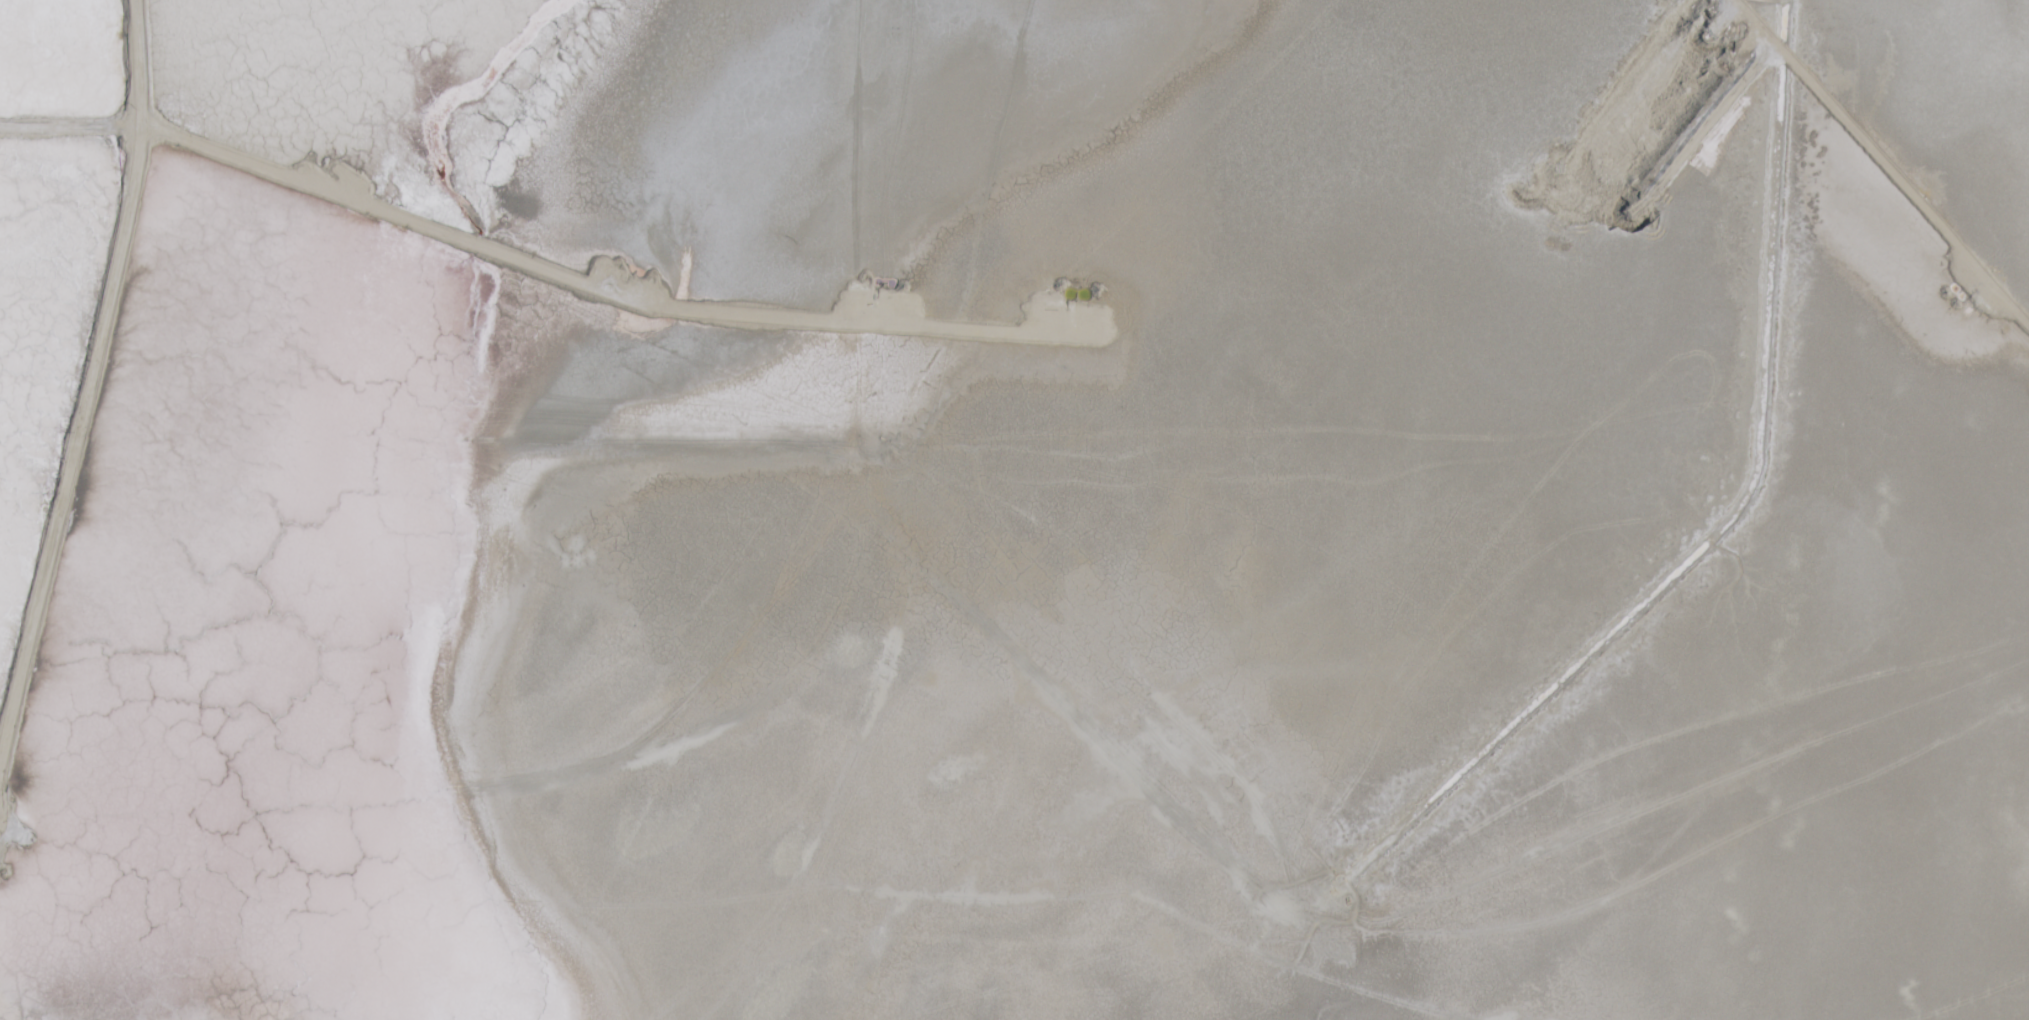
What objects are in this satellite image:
quarry: (485, 420)

